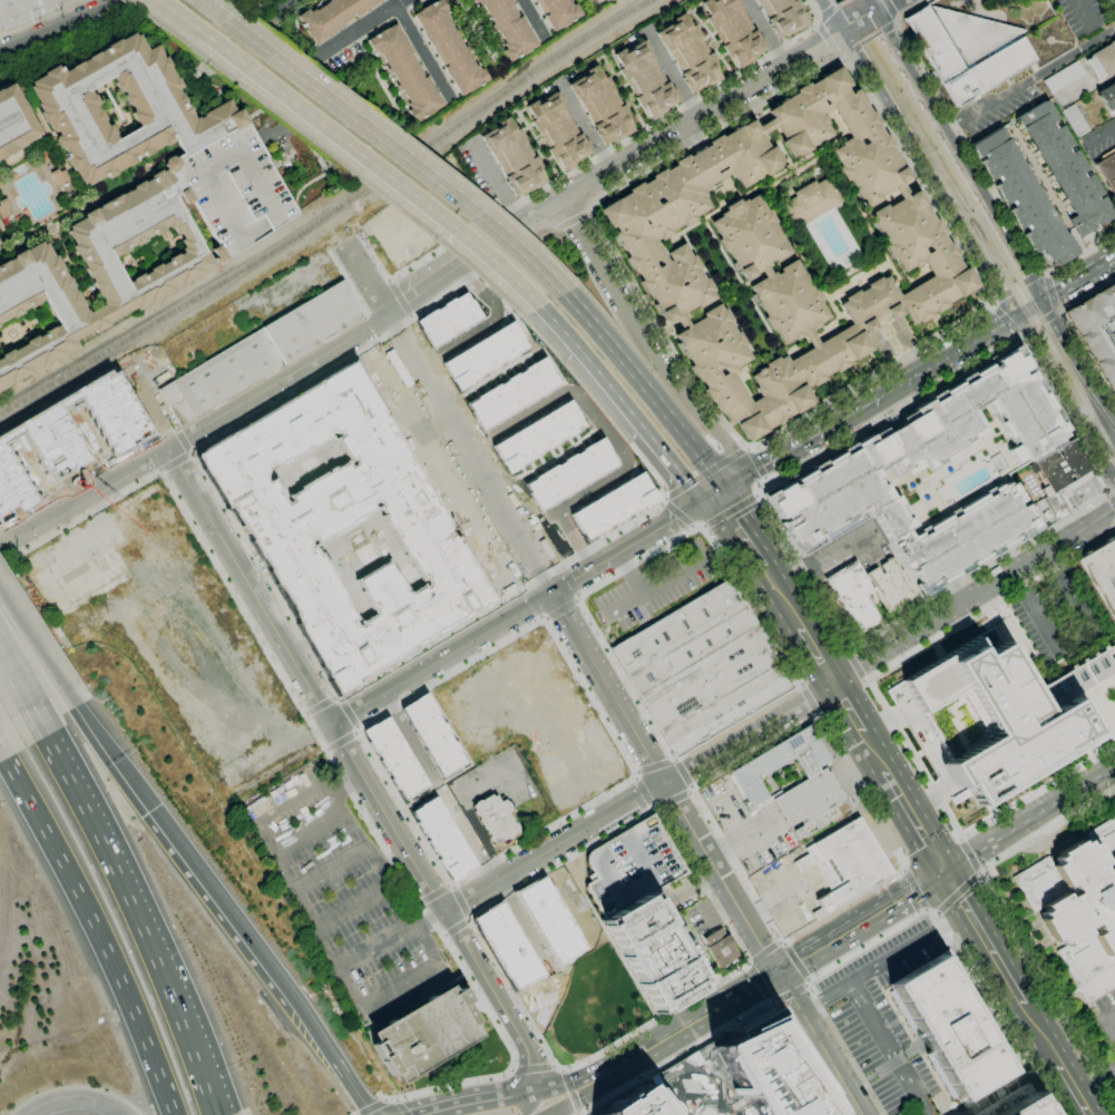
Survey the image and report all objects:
park: (242, 0)
building: (603, 0)
building: (608, 0)
road: (841, 2)
road: (1113, 2)
road: (154, 3)
road: (241, 3)
road: (255, 3)
road: (414, 3)
road: (163, 4)
road: (302, 4)
road: (872, 4)
road: (884, 4)
road: (835, 6)
road: (891, 7)
road: (246, 8)
building: (26, 10)
road: (870, 11)
road: (151, 12)
building: (558, 12)
road: (827, 12)
road: (401, 13)
road: (1084, 13)
road: (148, 14)
road: (830, 14)
road: (41, 17)
road: (182, 17)
road: (221, 17)
building: (333, 17)
building: (782, 17)
road: (897, 17)
road: (535, 18)
road: (857, 18)
road: (257, 19)
road: (816, 19)
road: (251, 25)
road: (815, 25)
road: (884, 25)
road: (894, 25)
road: (843, 26)
building: (509, 27)
road: (886, 27)
road: (68, 28)
road: (268, 30)
road: (878, 30)
building: (730, 31)
road: (868, 37)
road: (827, 39)
road: (334, 45)
road: (290, 47)
building: (450, 47)
road: (853, 48)
building: (968, 50)
road: (265, 51)
road: (423, 51)
road: (267, 53)
building: (686, 55)
road: (838, 55)
road: (301, 57)
road: (845, 57)
road: (917, 59)
building: (1103, 61)
road: (310, 62)
railway: (880, 63)
building: (407, 71)
road: (322, 72)
road: (671, 72)
building: (1064, 77)
building: (646, 79)
road: (1030, 80)
road: (217, 88)
building: (23, 90)
building: (1107, 96)
building: (599, 106)
building: (71, 110)
road: (258, 111)
road: (286, 118)
road: (303, 118)
railway: (467, 120)
building: (1075, 120)
building: (14, 121)
road: (395, 121)
road: (274, 123)
road: (677, 128)
road: (330, 131)
building: (558, 131)
road: (323, 150)
railway: (942, 153)
building: (515, 157)
road: (591, 158)
road: (970, 169)
building: (1107, 169)
road: (326, 170)
road: (930, 170)
building: (1064, 170)
building: (60, 177)
building: (233, 189)
parking lot: (233, 189)
road: (447, 192)
building: (1020, 197)
road: (594, 202)
building: (811, 202)
building: (4, 208)
road: (587, 213)
railway: (972, 219)
road: (568, 223)
road: (1018, 234)
road: (541, 236)
building: (137, 244)
building: (782, 253)
road: (496, 262)
road: (451, 271)
road: (1040, 272)
parking lot: (524, 273)
road: (1045, 273)
road: (1078, 278)
road: (348, 281)
road: (368, 281)
road: (606, 281)
road: (1017, 286)
road: (1050, 290)
road: (400, 296)
road: (497, 301)
road: (991, 301)
traffic signals: (1044, 301)
road: (990, 305)
road: (1031, 307)
road: (1057, 307)
road: (1056, 312)
traffic signals: (1020, 314)
building: (82, 317)
building: (450, 317)
road: (493, 319)
road: (1005, 319)
building: (313, 321)
road: (1037, 321)
road: (521, 324)
road: (372, 325)
road: (395, 327)
railway: (143, 329)
road: (1069, 330)
building: (1097, 330)
road: (1018, 331)
road: (1020, 332)
fountain: (540, 345)
building: (485, 355)
road: (949, 355)
road: (515, 363)
road: (1078, 365)
railway: (1073, 368)
road: (597, 371)
railway: (1066, 375)
building: (221, 376)
road: (280, 383)
road: (644, 387)
building: (511, 392)
road: (1066, 394)
road: (285, 395)
road: (595, 401)
road: (1112, 419)
road: (838, 420)
road: (707, 422)
building: (538, 436)
building: (67, 440)
road: (183, 440)
road: (615, 446)
railway: (1111, 446)
road: (472, 452)
road: (548, 458)
road: (175, 461)
road: (755, 462)
building: (1060, 466)
building: (852, 468)
road: (757, 469)
building: (568, 473)
road: (706, 473)
road: (683, 476)
road: (88, 479)
road: (765, 481)
road: (1109, 489)
building: (1079, 491)
road: (1113, 492)
traffic signals: (717, 495)
road: (756, 495)
road: (1114, 495)
road: (85, 499)
building: (612, 506)
building: (1055, 506)
road: (730, 509)
road: (679, 511)
road: (80, 517)
building: (290, 521)
road: (696, 525)
road: (703, 525)
road: (741, 530)
road: (614, 532)
road: (636, 542)
road: (638, 560)
road: (263, 574)
road: (628, 574)
building: (1101, 575)
road: (542, 576)
road: (571, 580)
road: (655, 585)
road: (250, 586)
parking lot: (657, 586)
building: (891, 587)
road: (974, 595)
building: (850, 596)
road: (782, 598)
road: (532, 604)
road: (750, 605)
road: (560, 608)
road: (1034, 610)
road: (30, 640)
road: (429, 644)
road: (816, 655)
road: (441, 656)
building: (702, 667)
road: (13, 683)
road: (609, 687)
road: (410, 695)
road: (588, 696)
road: (808, 698)
road: (320, 704)
road: (793, 708)
road: (349, 713)
road: (883, 713)
building: (1006, 714)
road: (857, 720)
building: (433, 734)
road: (341, 739)
road: (663, 743)
road: (108, 749)
building: (394, 759)
road: (468, 761)
flagpole: (830, 765)
road: (653, 766)
road: (339, 770)
road: (682, 774)
building: (818, 784)
road: (437, 786)
parking lot: (493, 786)
road: (642, 790)
road: (672, 798)
traffic signals: (154, 810)
road: (911, 814)
road: (385, 818)
building: (496, 819)
road: (597, 819)
road: (1028, 819)
road: (260, 825)
building: (441, 835)
road: (732, 835)
road: (503, 854)
road: (970, 854)
road: (559, 862)
road: (499, 864)
building: (844, 864)
building: (632, 865)
flagpole: (894, 867)
road: (906, 868)
traffic signals: (942, 871)
road: (721, 877)
road: (701, 886)
road: (692, 888)
road: (919, 891)
road: (956, 891)
road: (433, 893)
road: (957, 893)
road: (296, 894)
parking lot: (344, 896)
road: (459, 902)
road: (131, 906)
building: (1079, 907)
road: (566, 912)
road: (765, 913)
road: (231, 916)
parking lot: (702, 917)
road: (1008, 919)
road: (860, 922)
road: (526, 923)
building: (552, 923)
road: (903, 925)
road: (454, 928)
road: (96, 929)
road: (610, 939)
building: (511, 947)
building: (720, 948)
road: (765, 951)
building: (653, 952)
road: (693, 953)
road: (795, 960)
road: (884, 961)
road: (751, 962)
road: (750, 966)
traffic signals: (777, 971)
road: (756, 979)
road: (876, 980)
road: (805, 984)
road: (1011, 988)
road: (355, 991)
road: (511, 992)
road: (789, 992)
road: (766, 996)
road: (497, 998)
road: (1111, 1019)
road: (653, 1020)
parking lot: (1097, 1020)
road: (732, 1021)
parking lot: (889, 1023)
building: (952, 1025)
road: (674, 1031)
building: (426, 1034)
road: (821, 1043)
road: (890, 1047)
road: (915, 1048)
road: (920, 1050)
parking lot: (1108, 1063)
road: (891, 1064)
road: (341, 1067)
road: (532, 1067)
road: (870, 1076)
building: (728, 1078)
road: (1095, 1084)
road: (994, 1086)
road: (444, 1087)
road: (1070, 1089)
traffic signals: (535, 1090)
road: (554, 1090)
road: (571, 1090)
road: (989, 1092)
road: (994, 1096)
road: (478, 1098)
road: (565, 1099)
road: (57, 1101)
traffic signals: (92, 1101)
road: (532, 1103)
building: (1015, 1104)
road: (109, 1105)
road: (372, 1107)
road: (399, 1107)
road: (548, 1111)
road: (559, 1111)
road: (579, 1114)

